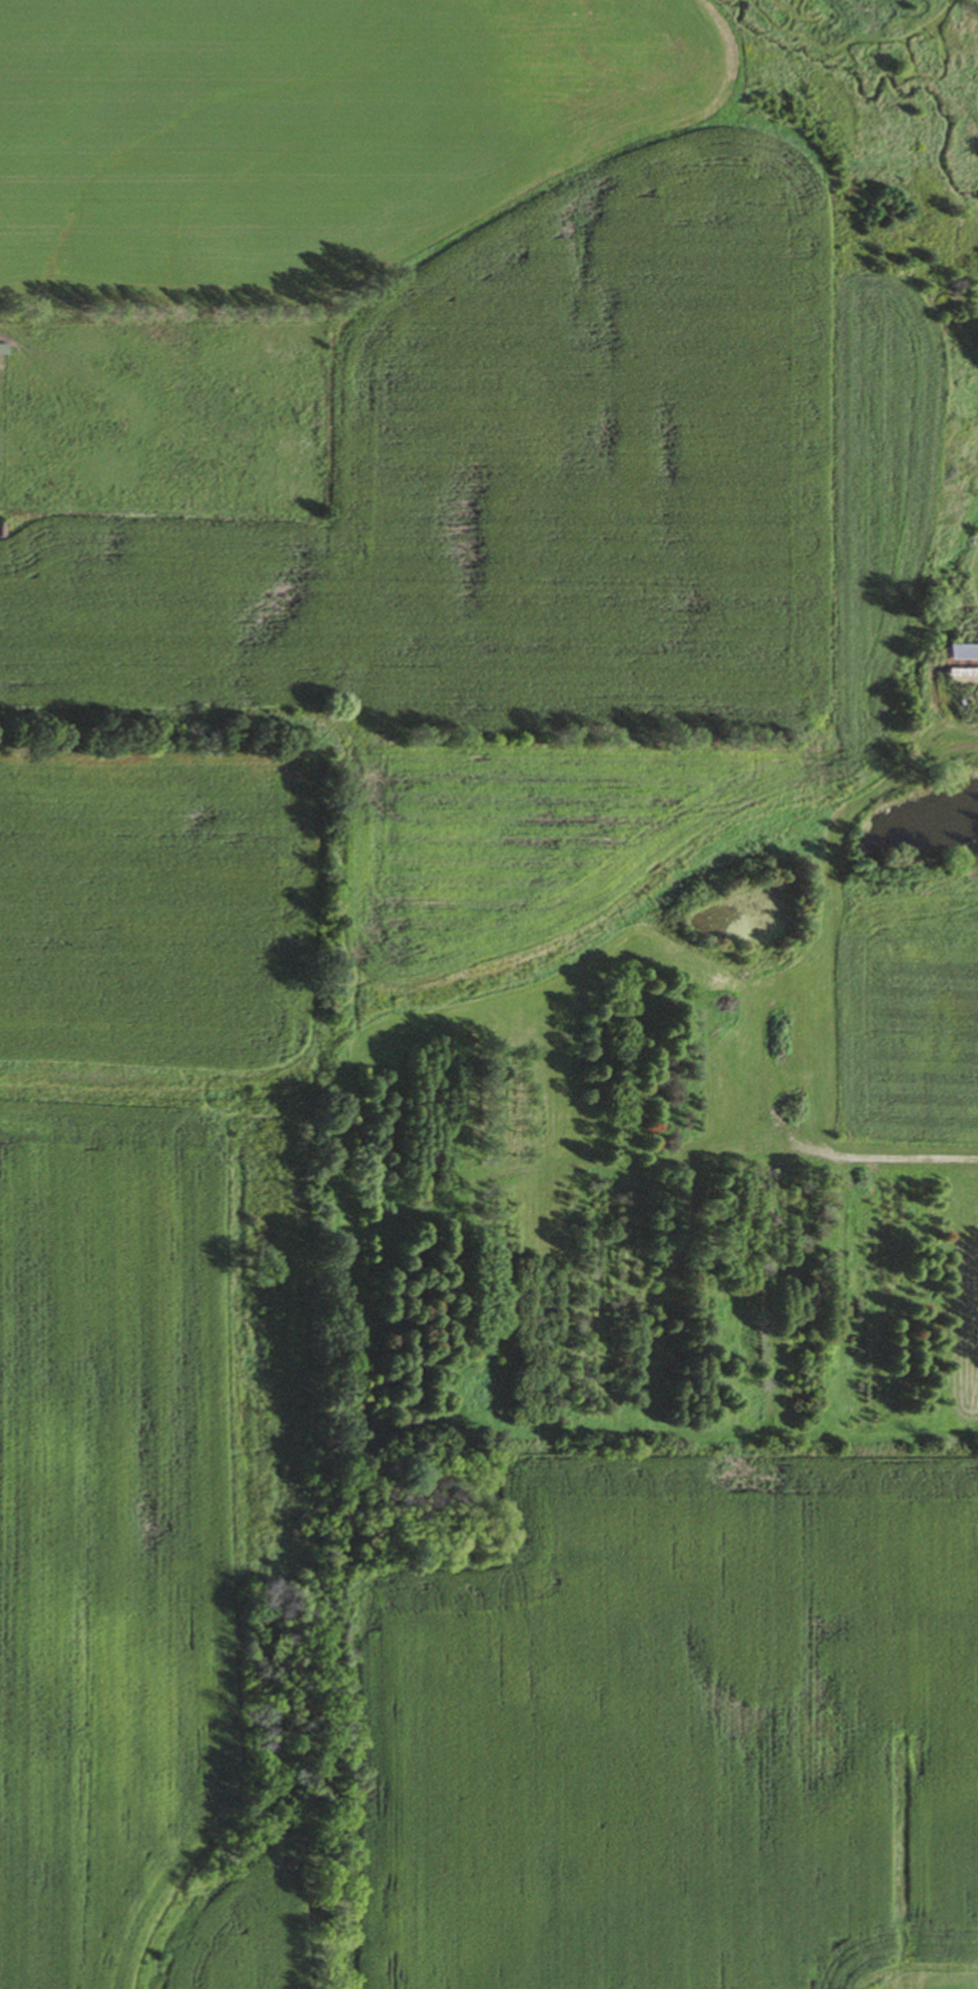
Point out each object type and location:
building: (2, 351)
building: (0, 531)
building: (962, 654)

